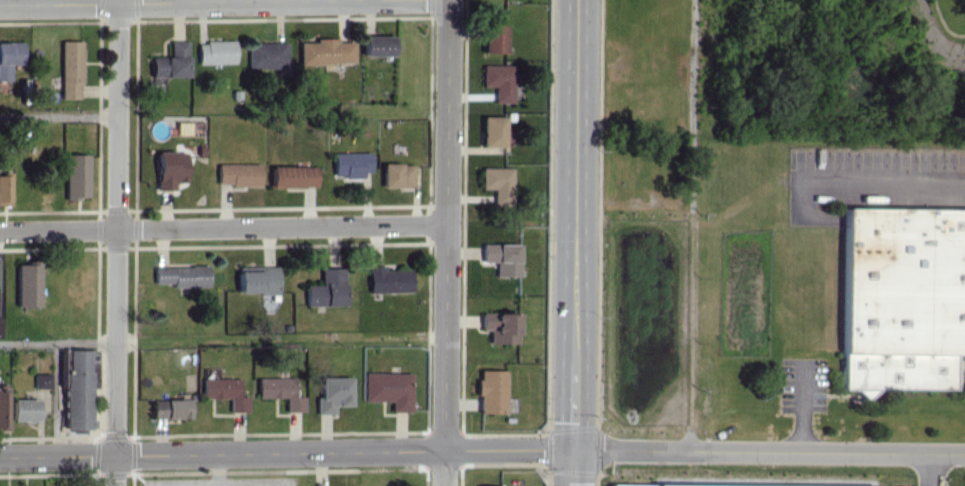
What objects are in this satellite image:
road: (158, 2)
building: (493, 37)
building: (377, 45)
building: (325, 51)
building: (215, 52)
building: (266, 55)
building: (9, 57)
building: (171, 61)
building: (70, 69)
building: (498, 81)
road: (59, 116)
building: (492, 131)
building: (350, 164)
building: (169, 169)
building: (237, 174)
building: (396, 174)
building: (75, 176)
building: (293, 176)
road: (876, 177)
building: (497, 183)
building: (4, 188)
road: (575, 225)
road: (689, 225)
road: (223, 228)
road: (116, 243)
road: (446, 243)
building: (501, 257)
building: (182, 275)
building: (257, 279)
building: (387, 279)
building: (27, 285)
building: (326, 288)
building: (901, 297)
building: (0, 326)
building: (499, 326)
road: (222, 340)
building: (41, 380)
building: (75, 389)
building: (388, 389)
building: (280, 391)
building: (490, 391)
building: (225, 392)
building: (332, 393)
road: (801, 405)
building: (3, 407)
building: (170, 408)
building: (25, 409)
traffic signals: (573, 450)
road: (768, 451)
road: (286, 453)
road: (572, 468)
road: (931, 469)
building: (480, 485)
building: (714, 485)

